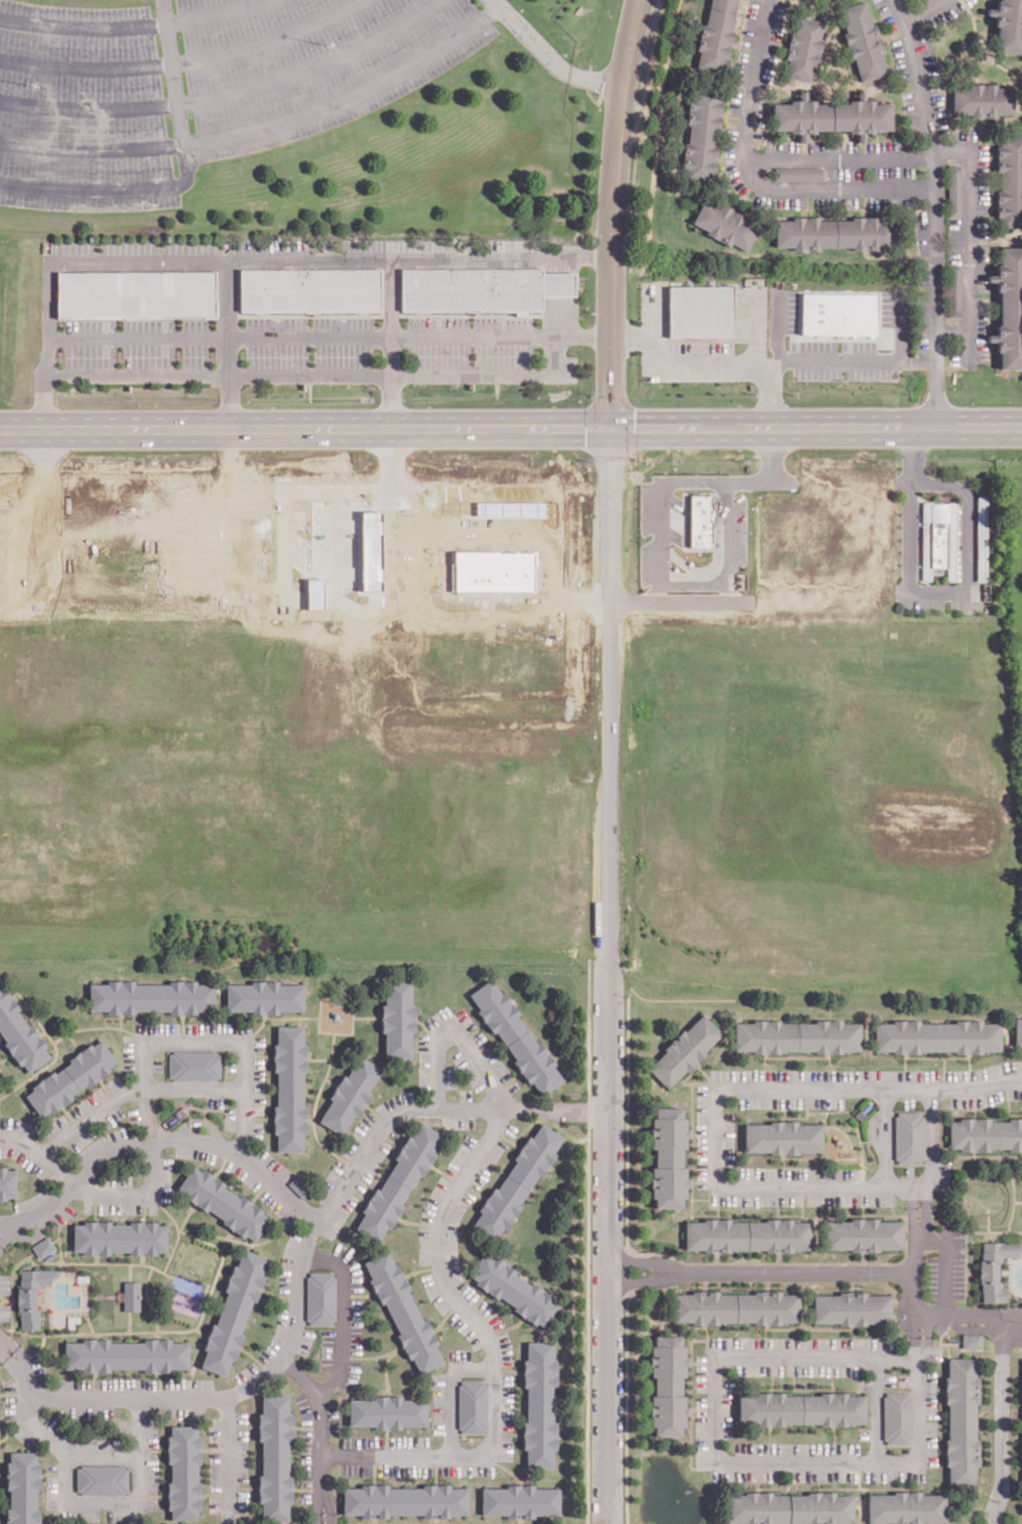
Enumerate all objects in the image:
building: (926, 0)
street lamp: (518, 9)
road: (165, 11)
road: (929, 11)
road: (215, 12)
parking lot: (887, 14)
road: (973, 14)
parking lot: (778, 19)
parking lot: (750, 22)
building: (1009, 23)
road: (83, 26)
building: (716, 37)
building: (863, 39)
street lamp: (322, 43)
building: (805, 47)
street lamp: (561, 53)
road: (548, 56)
road: (185, 59)
parking lot: (901, 60)
parking lot: (739, 81)
street lamp: (27, 84)
road: (866, 84)
parking lot: (197, 85)
road: (752, 86)
street lamp: (590, 90)
road: (228, 92)
building: (983, 99)
parking lot: (912, 112)
building: (802, 114)
building: (861, 114)
building: (701, 133)
parking lot: (965, 135)
parking lot: (888, 144)
parking lot: (832, 145)
parking lot: (782, 146)
parking lot: (733, 157)
road: (841, 157)
street lamp: (926, 169)
parking lot: (895, 172)
building: (799, 173)
parking lot: (846, 173)
parking lot: (982, 178)
building: (1010, 179)
road: (173, 184)
building: (955, 186)
road: (841, 188)
street lamp: (752, 190)
parking lot: (778, 200)
parking lot: (890, 200)
parking lot: (836, 201)
road: (938, 210)
road: (609, 212)
building: (724, 224)
parking lot: (923, 231)
building: (805, 232)
building: (864, 232)
parking lot: (956, 240)
road: (969, 240)
parking lot: (130, 246)
parking lot: (192, 246)
parking lot: (270, 246)
parking lot: (72, 247)
parking lot: (982, 251)
road: (899, 255)
road: (245, 258)
parking lot: (923, 271)
parking lot: (982, 287)
building: (481, 288)
building: (955, 288)
building: (309, 289)
building: (136, 292)
street lamp: (979, 293)
building: (1010, 304)
street lamp: (638, 305)
building: (700, 310)
building: (839, 314)
parking lot: (922, 323)
road: (756, 328)
parking lot: (982, 328)
road: (328, 335)
road: (633, 338)
road: (391, 342)
road: (227, 343)
street lamp: (179, 355)
street lamp: (212, 355)
street lamp: (312, 355)
street lamp: (242, 356)
road: (828, 362)
road: (915, 362)
street lamp: (638, 363)
road: (700, 364)
road: (317, 374)
street lamp: (703, 382)
street lamp: (250, 383)
street lamp: (455, 383)
street lamp: (289, 384)
street lamp: (329, 384)
street lamp: (555, 384)
road: (511, 426)
building: (700, 521)
road: (661, 533)
building: (939, 537)
building: (982, 538)
road: (941, 592)
road: (638, 597)
street lamp: (948, 602)
parking lot: (920, 604)
parking lot: (966, 605)
road: (608, 975)
building: (263, 996)
building: (150, 997)
road: (291, 1016)
road: (366, 1016)
parking lot: (438, 1016)
building: (397, 1017)
parking lot: (465, 1018)
road: (105, 1020)
road: (120, 1021)
road: (260, 1024)
road: (100, 1025)
parking lot: (157, 1027)
parking lot: (218, 1028)
road: (350, 1031)
building: (1019, 1031)
building: (19, 1034)
road: (456, 1034)
building: (937, 1035)
building: (792, 1037)
building: (516, 1038)
road: (73, 1040)
road: (200, 1042)
street lamp: (454, 1046)
road: (56, 1048)
building: (679, 1050)
parking lot: (128, 1053)
parking lot: (490, 1054)
road: (4, 1057)
road: (317, 1058)
parking lot: (423, 1060)
parking lot: (230, 1063)
parking lot: (158, 1064)
building: (194, 1065)
parking lot: (467, 1069)
parking lot: (451, 1076)
building: (70, 1078)
road: (133, 1089)
building: (289, 1090)
building: (349, 1094)
parking lot: (465, 1094)
parking lot: (770, 1100)
parking lot: (215, 1101)
parking lot: (394, 1101)
parking lot: (823, 1101)
road: (314, 1106)
road: (202, 1108)
road: (434, 1108)
street lamp: (194, 1110)
road: (375, 1112)
road: (188, 1113)
road: (205, 1113)
parking lot: (133, 1116)
road: (201, 1117)
parking lot: (230, 1118)
street lamp: (481, 1119)
parking lot: (453, 1121)
road: (202, 1122)
parking lot: (17, 1125)
parking lot: (55, 1125)
road: (628, 1125)
parking lot: (256, 1127)
parking lot: (509, 1129)
parking lot: (357, 1134)
building: (985, 1134)
parking lot: (703, 1135)
building: (908, 1136)
road: (387, 1137)
road: (885, 1137)
road: (157, 1138)
building: (778, 1138)
road: (932, 1143)
road: (714, 1144)
street lamp: (166, 1150)
road: (39, 1153)
parking lot: (197, 1153)
parking lot: (460, 1154)
building: (663, 1158)
parking lot: (26, 1160)
parking lot: (273, 1163)
parking lot: (371, 1164)
road: (444, 1172)
parking lot: (242, 1173)
parking lot: (843, 1173)
parking lot: (118, 1179)
parking lot: (164, 1179)
parking lot: (330, 1179)
building: (398, 1181)
building: (6, 1182)
building: (517, 1182)
building: (300, 1185)
road: (260, 1188)
road: (135, 1192)
parking lot: (434, 1198)
parking lot: (31, 1200)
building: (222, 1202)
parking lot: (118, 1207)
parking lot: (152, 1208)
parking lot: (339, 1214)
road: (185, 1217)
street lamp: (936, 1221)
road: (417, 1222)
parking lot: (945, 1222)
road: (177, 1226)
building: (863, 1233)
road: (34, 1235)
building: (741, 1235)
building: (119, 1239)
road: (588, 1241)
road: (255, 1242)
street lamp: (326, 1244)
parking lot: (425, 1245)
building: (42, 1247)
street lamp: (932, 1251)
road: (99, 1262)
road: (646, 1262)
parking lot: (348, 1264)
building: (994, 1266)
road: (422, 1268)
road: (798, 1271)
parking lot: (931, 1276)
road: (646, 1278)
parking lot: (4, 1284)
road: (11, 1287)
building: (514, 1290)
parking lot: (434, 1292)
building: (131, 1294)
building: (30, 1295)
road: (357, 1295)
building: (320, 1298)
road: (476, 1301)
building: (853, 1307)
building: (732, 1309)
building: (403, 1311)
parking lot: (4, 1312)
building: (233, 1312)
parking lot: (490, 1314)
road: (445, 1316)
road: (969, 1316)
road: (341, 1317)
parking lot: (355, 1325)
road: (505, 1328)
road: (168, 1329)
parking lot: (466, 1330)
road: (913, 1334)
road: (927, 1337)
building: (971, 1339)
parking lot: (305, 1340)
parking lot: (801, 1342)
parking lot: (505, 1347)
parking lot: (327, 1348)
road: (492, 1351)
building: (126, 1355)
road: (371, 1355)
parking lot: (459, 1355)
street lamp: (480, 1355)
road: (387, 1357)
parking lot: (797, 1368)
road: (507, 1369)
road: (385, 1370)
parking lot: (701, 1373)
parking lot: (351, 1374)
street lamp: (286, 1378)
parking lot: (889, 1379)
parking lot: (903, 1379)
street lamp: (43, 1384)
parking lot: (125, 1384)
parking lot: (189, 1384)
street lamp: (226, 1385)
building: (662, 1385)
street lamp: (341, 1391)
parking lot: (930, 1393)
road: (451, 1394)
road: (203, 1399)
parking lot: (438, 1403)
building: (538, 1405)
parking lot: (10, 1406)
building: (472, 1407)
building: (801, 1408)
parking lot: (727, 1409)
road: (875, 1409)
parking lot: (85, 1411)
building: (387, 1412)
parking lot: (241, 1416)
building: (897, 1417)
building: (962, 1418)
parking lot: (333, 1419)
road: (1000, 1421)
road: (239, 1425)
road: (306, 1426)
parking lot: (702, 1430)
parking lot: (215, 1431)
road: (320, 1432)
parking lot: (22, 1434)
parking lot: (80, 1438)
parking lot: (360, 1440)
parking lot: (409, 1440)
street lamp: (435, 1441)
street lamp: (334, 1442)
road: (215, 1448)
parking lot: (797, 1448)
road: (150, 1449)
road: (66, 1452)
road: (228, 1452)
parking lot: (241, 1454)
building: (274, 1456)
road: (718, 1456)
parking lot: (307, 1457)
parking lot: (51, 1466)
parking lot: (356, 1468)
parking lot: (467, 1468)
parking lot: (216, 1470)
parking lot: (152, 1472)
building: (183, 1472)
building: (102, 1478)
road: (241, 1486)
building: (22, 1488)
road: (306, 1488)
parking lot: (51, 1491)
road: (214, 1493)
road: (149, 1494)
parking lot: (306, 1496)
road: (127, 1501)
parking lot: (242, 1501)
building: (404, 1501)
building: (521, 1501)
parking lot: (152, 1503)
parking lot: (215, 1504)
building: (905, 1507)
building: (788, 1508)
street lamp: (103, 1513)
parking lot: (78, 1514)
parking lot: (126, 1515)
parking lot: (228, 1519)
street lamp: (324, 1519)

